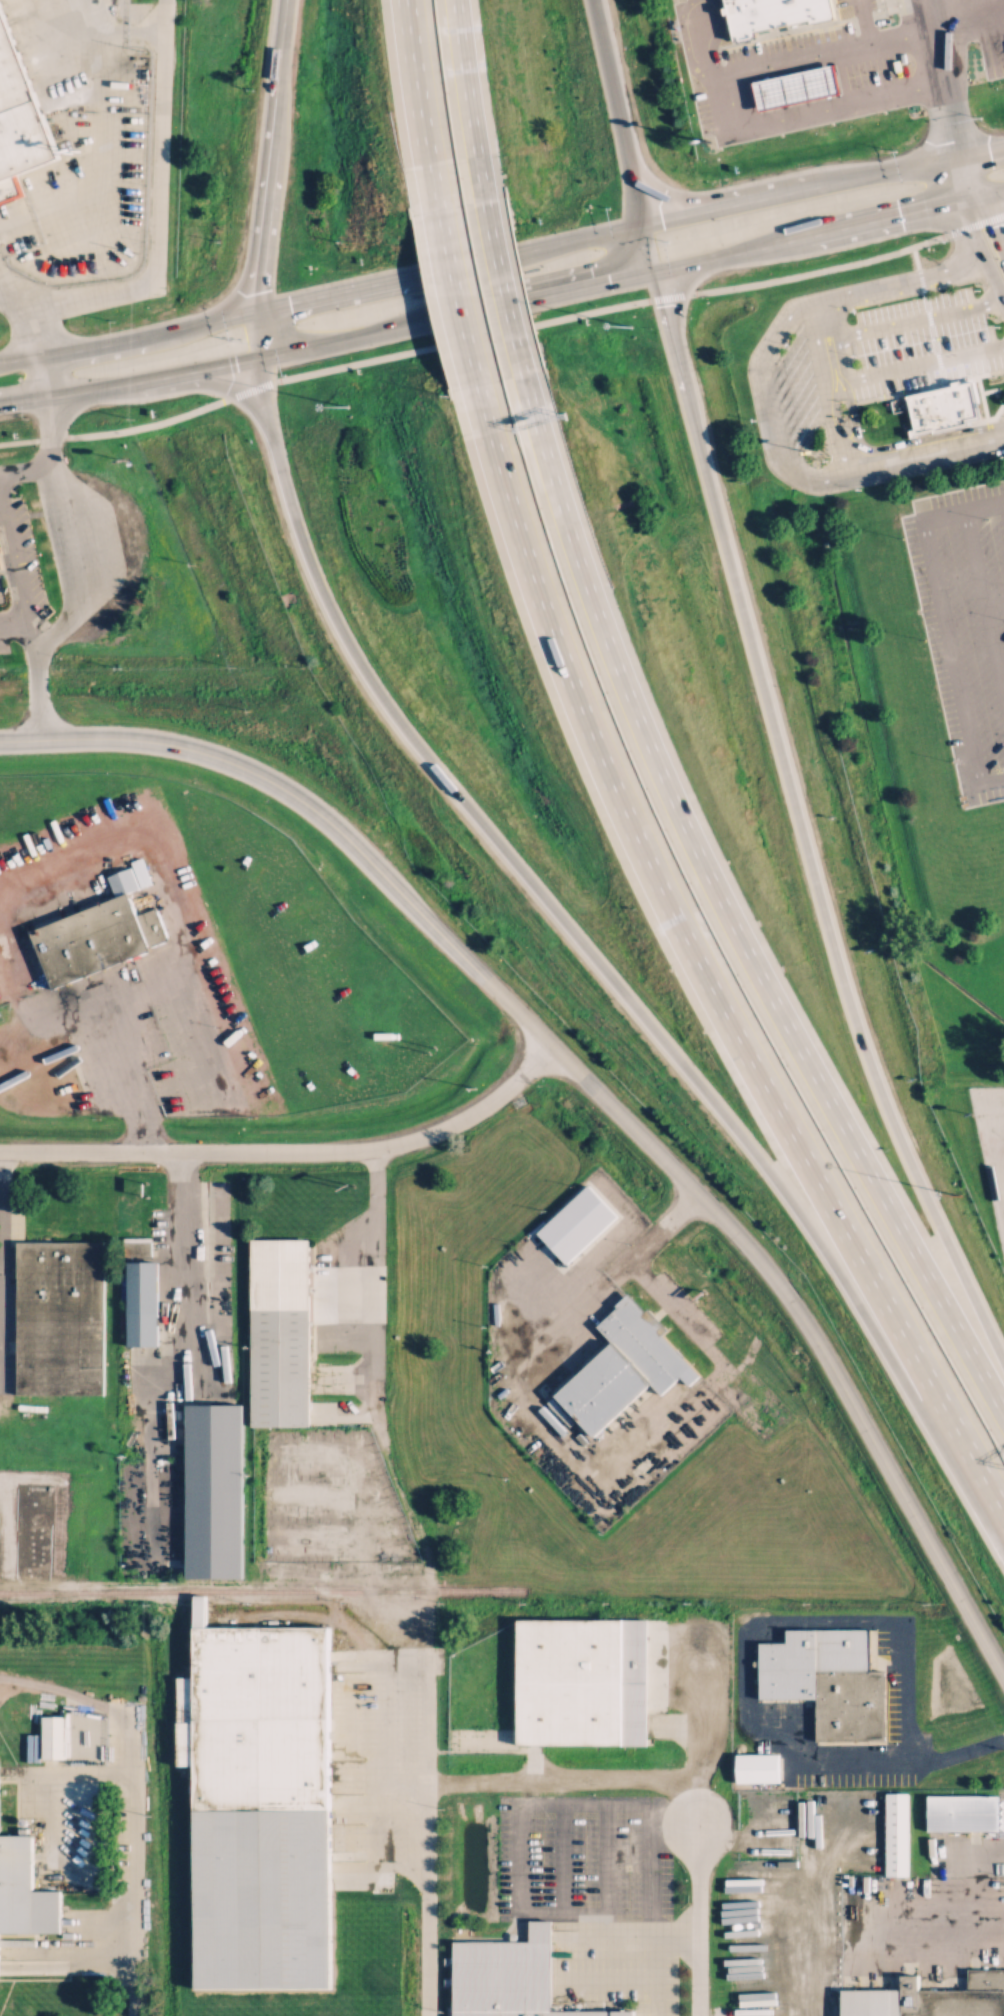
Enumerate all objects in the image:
road: (965, 10)
road: (286, 14)
building: (774, 15)
road: (598, 26)
road: (83, 28)
building: (795, 87)
gas station: (795, 87)
road: (943, 98)
road: (465, 100)
road: (427, 103)
building: (21, 113)
road: (771, 118)
road: (622, 138)
traffic signals: (954, 141)
traffic signals: (993, 149)
road: (981, 151)
road: (274, 169)
road: (887, 173)
road: (986, 192)
traffic signals: (930, 205)
road: (727, 206)
road: (898, 212)
road: (992, 214)
traffic signals: (661, 220)
traffic signals: (996, 222)
road: (547, 247)
road: (647, 248)
road: (741, 249)
road: (976, 251)
traffic signals: (264, 277)
traffic signals: (609, 281)
road: (501, 287)
road: (359, 288)
road: (559, 291)
road: (29, 293)
road: (464, 294)
traffic signals: (325, 296)
traffic signals: (663, 302)
road: (60, 307)
road: (912, 320)
street lamp: (630, 325)
road: (502, 331)
road: (264, 333)
road: (363, 334)
road: (133, 342)
road: (676, 358)
road: (919, 363)
traffic signals: (209, 369)
road: (197, 371)
road: (835, 387)
road: (66, 395)
road: (769, 401)
street lamp: (347, 405)
building: (943, 408)
road: (1003, 506)
building: (0, 566)
road: (15, 577)
road: (983, 604)
road: (938, 609)
parking lot: (964, 622)
road: (41, 677)
road: (990, 779)
road: (825, 913)
road: (725, 914)
road: (569, 930)
road: (193, 938)
building: (91, 939)
road: (706, 957)
road: (118, 1076)
road: (595, 1086)
road: (296, 1151)
street lamp: (959, 1194)
building: (579, 1221)
road: (662, 1227)
road: (180, 1273)
road: (375, 1298)
building: (145, 1303)
building: (58, 1315)
building: (283, 1331)
building: (624, 1365)
road: (523, 1369)
building: (214, 1490)
railway: (262, 1595)
building: (584, 1678)
building: (827, 1678)
road: (2, 1682)
road: (65, 1691)
building: (757, 1766)
road: (897, 1770)
road: (675, 1781)
road: (40, 1787)
building: (261, 1809)
building: (962, 1812)
road: (420, 1832)
building: (896, 1834)
road: (973, 1859)
road: (128, 1862)
building: (23, 1888)
building: (510, 1977)
building: (929, 1997)

